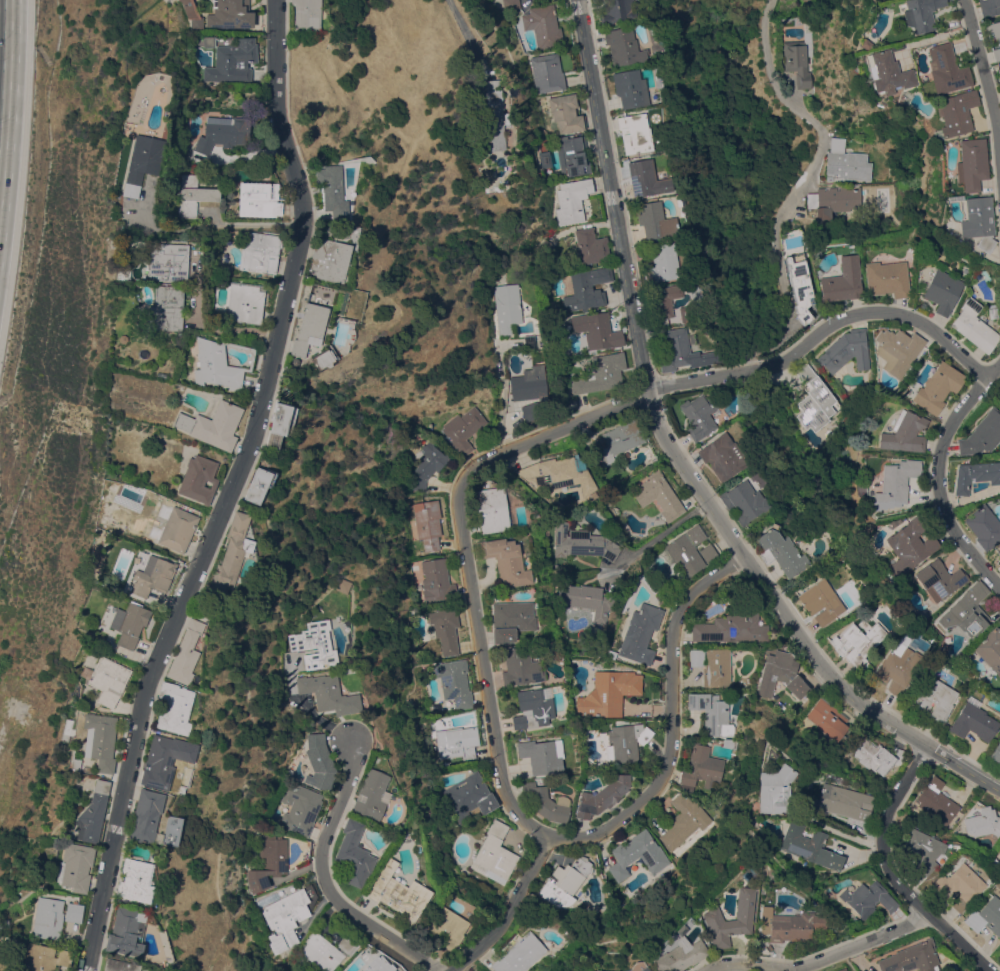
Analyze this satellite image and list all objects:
building: (182, 0)
building: (510, 3)
building: (989, 7)
building: (618, 11)
building: (230, 14)
building: (307, 14)
building: (921, 14)
building: (197, 23)
building: (543, 27)
road: (462, 30)
building: (996, 31)
building: (209, 42)
building: (864, 44)
building: (624, 46)
building: (996, 54)
building: (799, 59)
building: (232, 63)
building: (947, 69)
building: (999, 71)
building: (887, 72)
building: (547, 73)
building: (491, 83)
road: (985, 85)
building: (630, 88)
building: (566, 113)
building: (955, 114)
building: (497, 119)
building: (221, 133)
building: (635, 133)
building: (571, 156)
building: (545, 159)
building: (143, 162)
building: (846, 163)
building: (972, 164)
building: (646, 178)
road: (799, 183)
building: (333, 193)
building: (193, 195)
road: (611, 195)
building: (835, 198)
building: (259, 199)
building: (572, 200)
building: (852, 215)
building: (655, 220)
building: (979, 222)
road: (216, 227)
building: (591, 246)
building: (545, 247)
building: (260, 252)
building: (329, 260)
building: (169, 263)
building: (662, 263)
building: (887, 278)
building: (843, 281)
building: (800, 286)
building: (587, 288)
building: (943, 291)
building: (663, 301)
building: (245, 303)
building: (507, 307)
building: (166, 309)
building: (994, 313)
building: (685, 316)
road: (208, 325)
building: (975, 326)
building: (309, 328)
building: (598, 330)
road: (823, 333)
building: (529, 341)
building: (846, 350)
building: (897, 350)
building: (682, 351)
building: (324, 359)
building: (223, 362)
building: (600, 374)
building: (938, 387)
building: (531, 392)
road: (501, 398)
building: (815, 400)
building: (700, 414)
building: (278, 422)
building: (213, 425)
building: (463, 429)
building: (905, 433)
building: (982, 434)
building: (618, 442)
building: (723, 456)
building: (655, 460)
building: (426, 466)
road: (938, 467)
building: (559, 474)
building: (976, 475)
building: (758, 478)
building: (199, 479)
building: (896, 482)
building: (259, 484)
road: (228, 490)
building: (659, 495)
building: (745, 501)
building: (492, 510)
building: (428, 523)
building: (984, 526)
building: (178, 529)
road: (660, 535)
building: (582, 542)
building: (910, 545)
building: (687, 550)
building: (782, 551)
building: (998, 551)
building: (709, 553)
building: (232, 554)
building: (506, 561)
road: (466, 563)
building: (999, 569)
building: (153, 576)
building: (939, 579)
building: (436, 582)
building: (343, 585)
road: (766, 587)
building: (584, 599)
building: (821, 601)
building: (967, 610)
building: (511, 619)
building: (130, 623)
building: (732, 628)
building: (445, 629)
building: (640, 633)
building: (862, 642)
building: (317, 643)
building: (990, 647)
building: (186, 653)
building: (713, 666)
building: (520, 667)
building: (899, 667)
building: (784, 674)
building: (109, 679)
building: (455, 682)
building: (328, 693)
building: (609, 694)
building: (935, 698)
building: (175, 708)
building: (534, 708)
building: (712, 712)
road: (308, 713)
road: (669, 715)
building: (828, 718)
building: (974, 721)
building: (100, 740)
building: (628, 740)
building: (457, 742)
building: (730, 743)
building: (996, 753)
building: (542, 755)
building: (878, 756)
building: (159, 762)
building: (320, 762)
building: (75, 765)
building: (701, 768)
road: (964, 768)
building: (775, 789)
building: (405, 792)
building: (371, 796)
building: (602, 796)
building: (469, 797)
building: (937, 801)
building: (545, 802)
building: (843, 802)
building: (300, 808)
building: (94, 814)
building: (146, 815)
building: (684, 821)
building: (983, 822)
building: (809, 846)
building: (923, 849)
building: (354, 854)
building: (495, 854)
building: (638, 855)
building: (269, 863)
building: (76, 866)
road: (891, 872)
building: (135, 880)
road: (324, 881)
building: (566, 882)
building: (958, 885)
building: (397, 892)
building: (309, 893)
building: (868, 898)
building: (74, 912)
road: (507, 912)
building: (713, 916)
building: (986, 916)
building: (48, 918)
building: (286, 918)
building: (793, 926)
building: (446, 928)
building: (127, 932)
building: (347, 944)
building: (999, 951)
building: (322, 952)
building: (681, 953)
building: (520, 954)
building: (942, 954)
building: (45, 957)
building: (911, 958)
road: (820, 959)
building: (377, 963)
building: (120, 965)
building: (645, 969)
building: (842, 969)
building: (959, 970)
building: (962, 970)
building: (964, 970)

